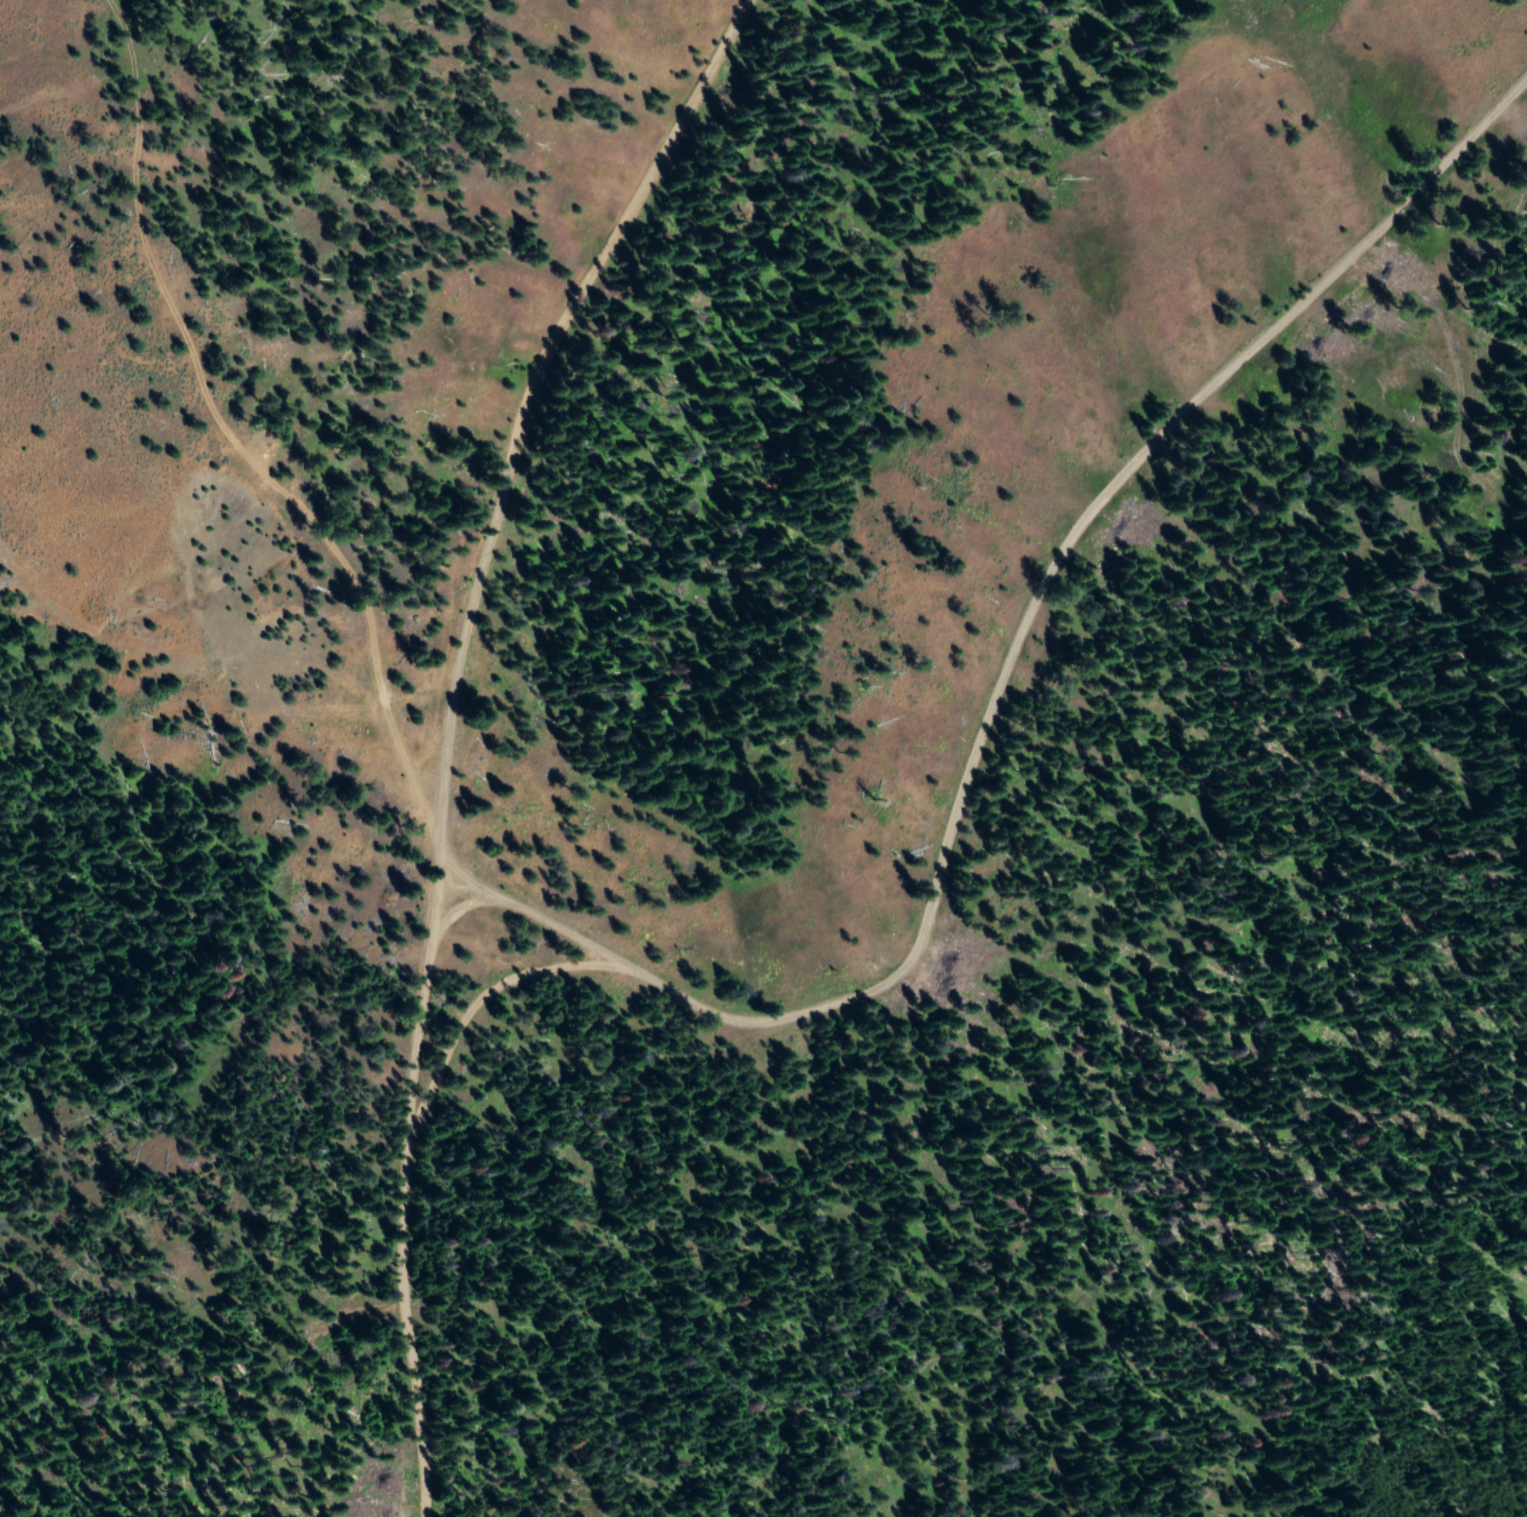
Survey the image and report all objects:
road: (1026, 728)
road: (500, 730)

